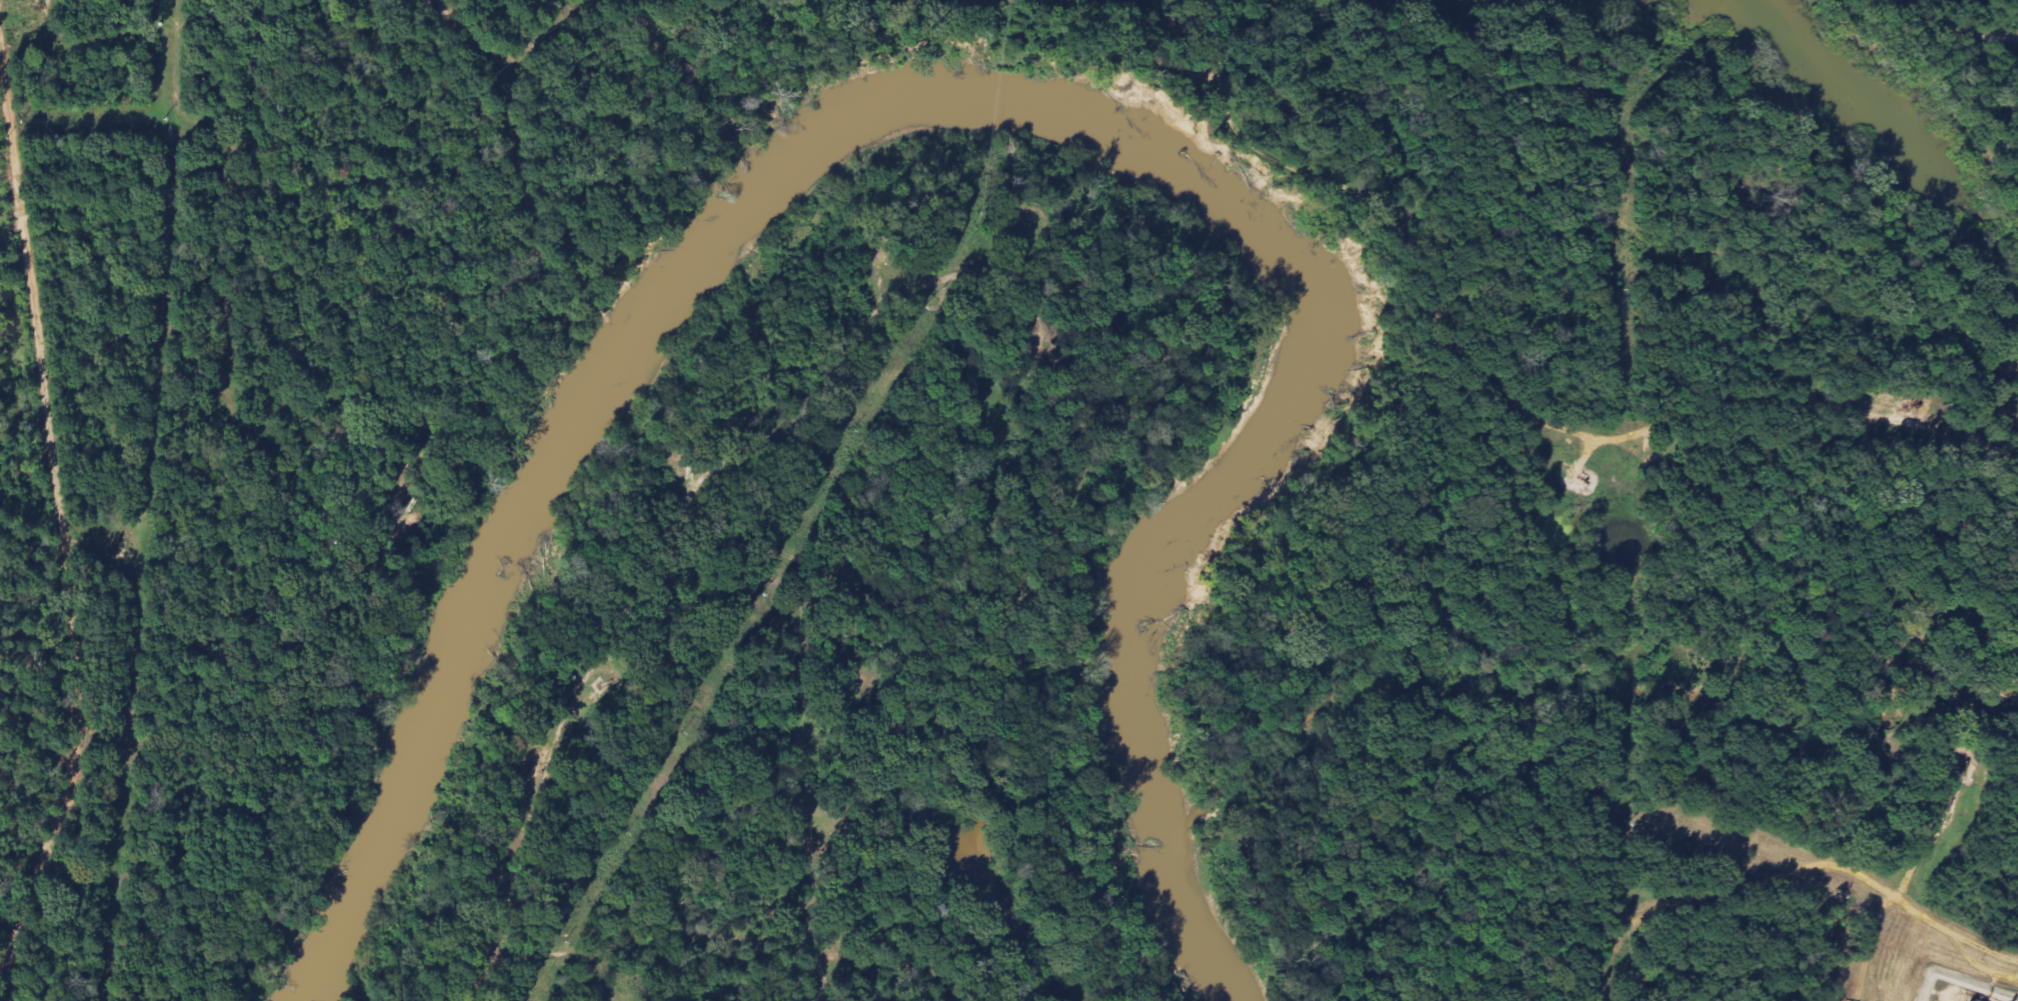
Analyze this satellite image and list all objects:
river: (983, 99)

